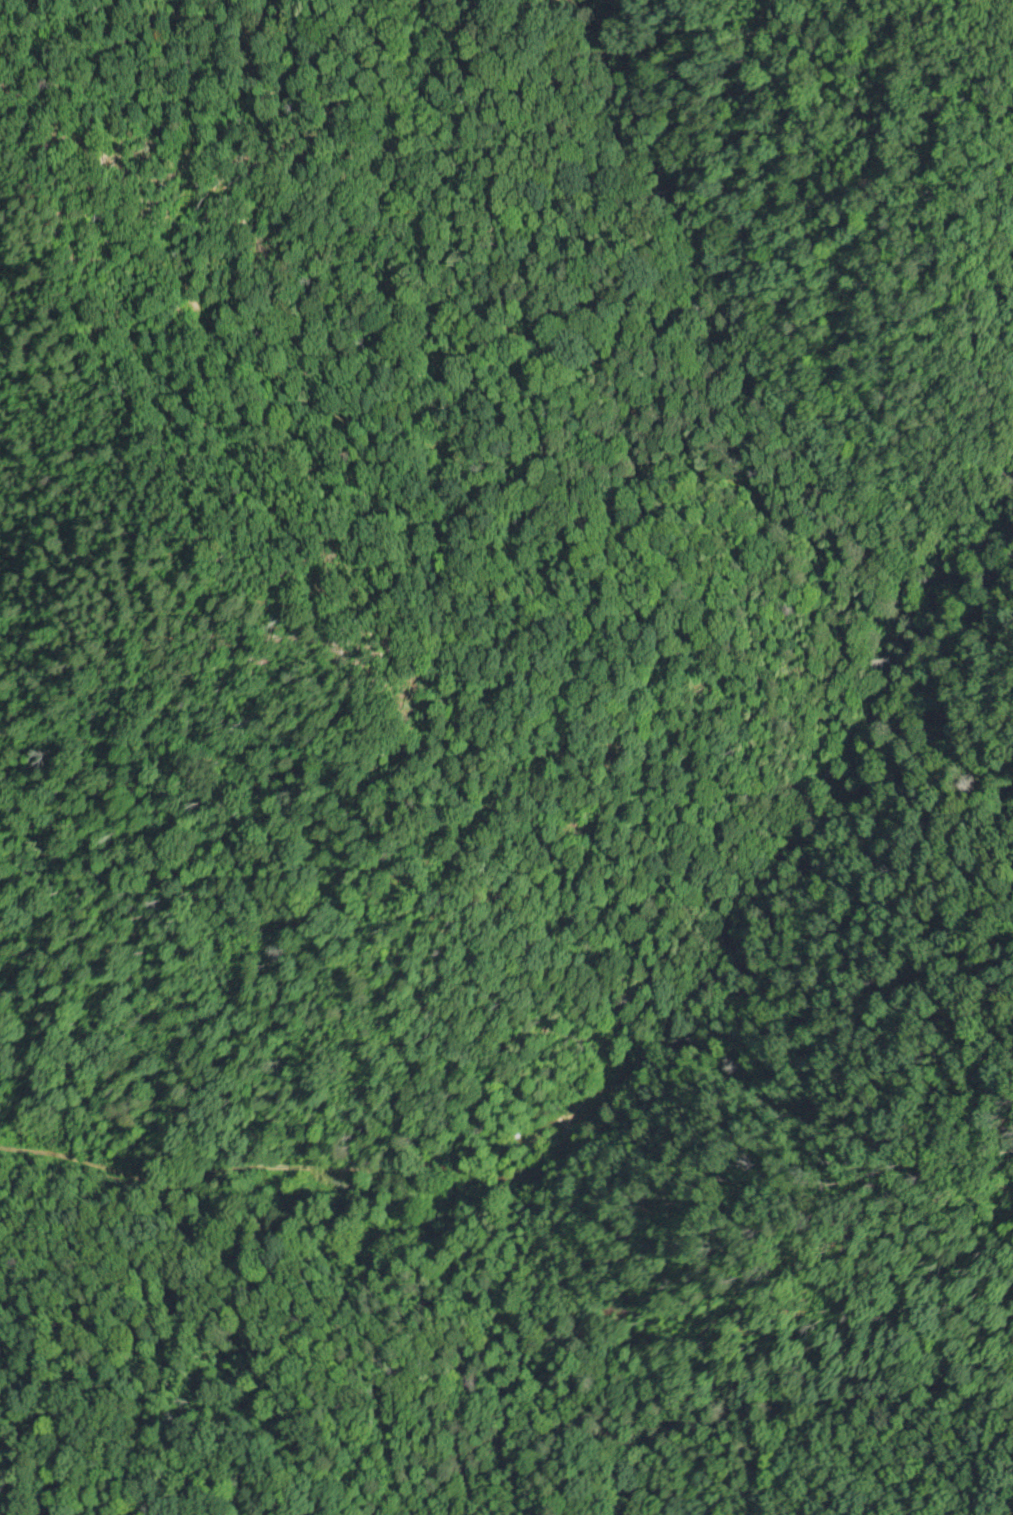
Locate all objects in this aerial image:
road: (275, 1173)

